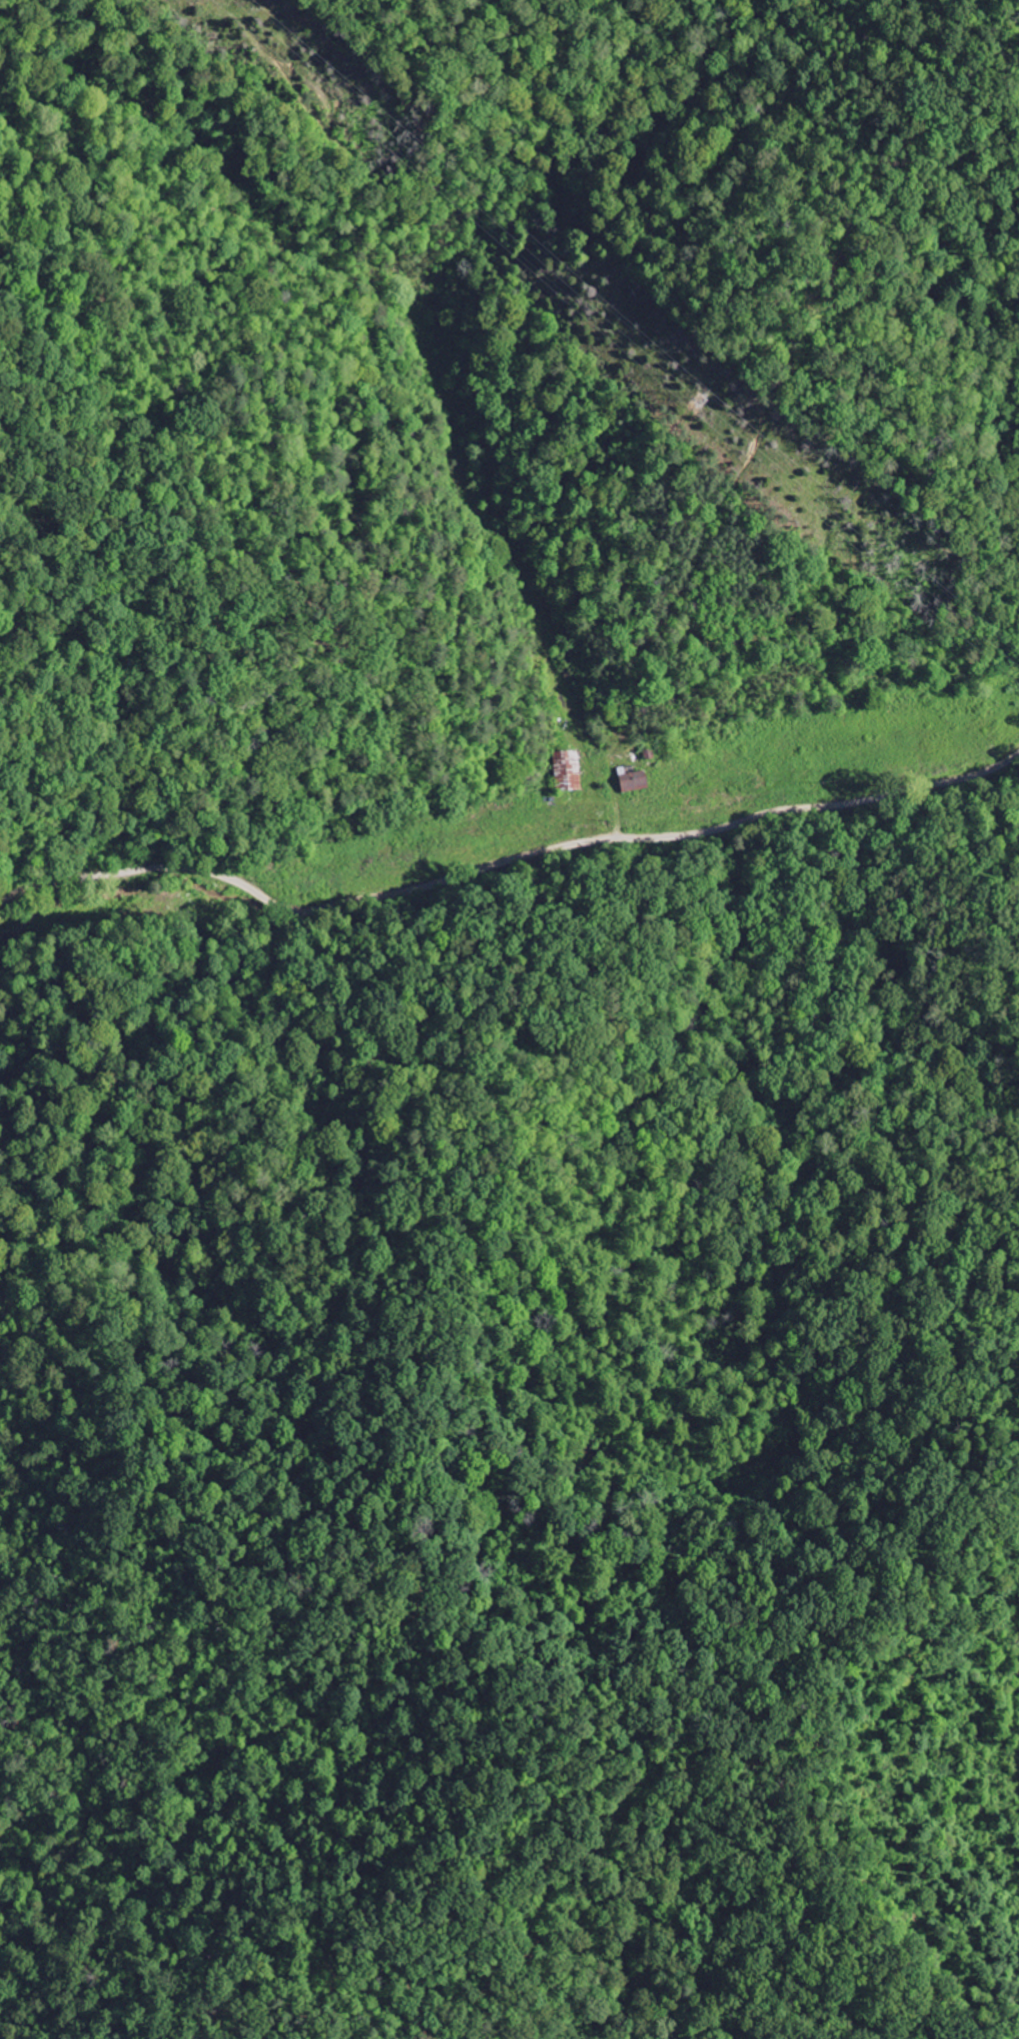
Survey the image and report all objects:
power tower: (700, 402)
building: (570, 771)
building: (638, 781)
road: (506, 861)

